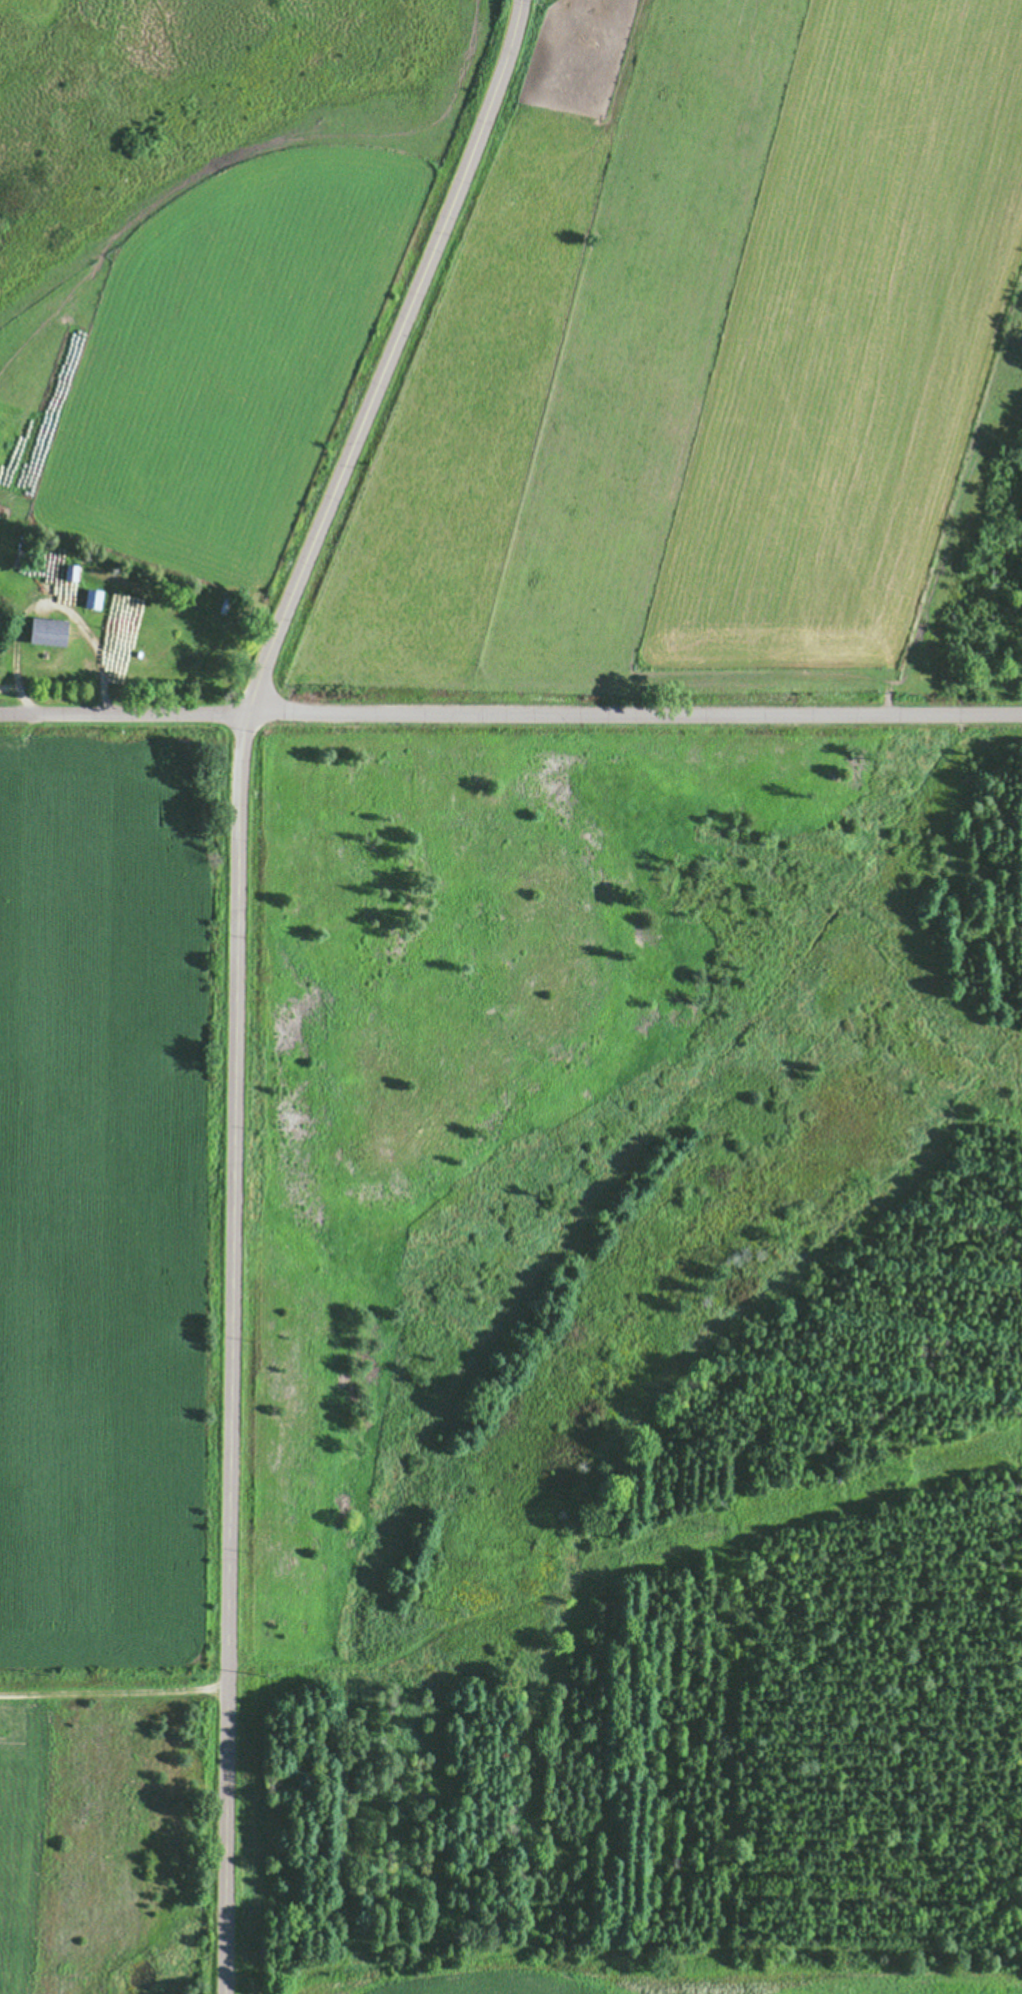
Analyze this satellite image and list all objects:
building: (90, 598)
building: (44, 631)
building: (147, 635)
building: (157, 663)
road: (511, 713)
road: (240, 971)
road: (113, 1694)

